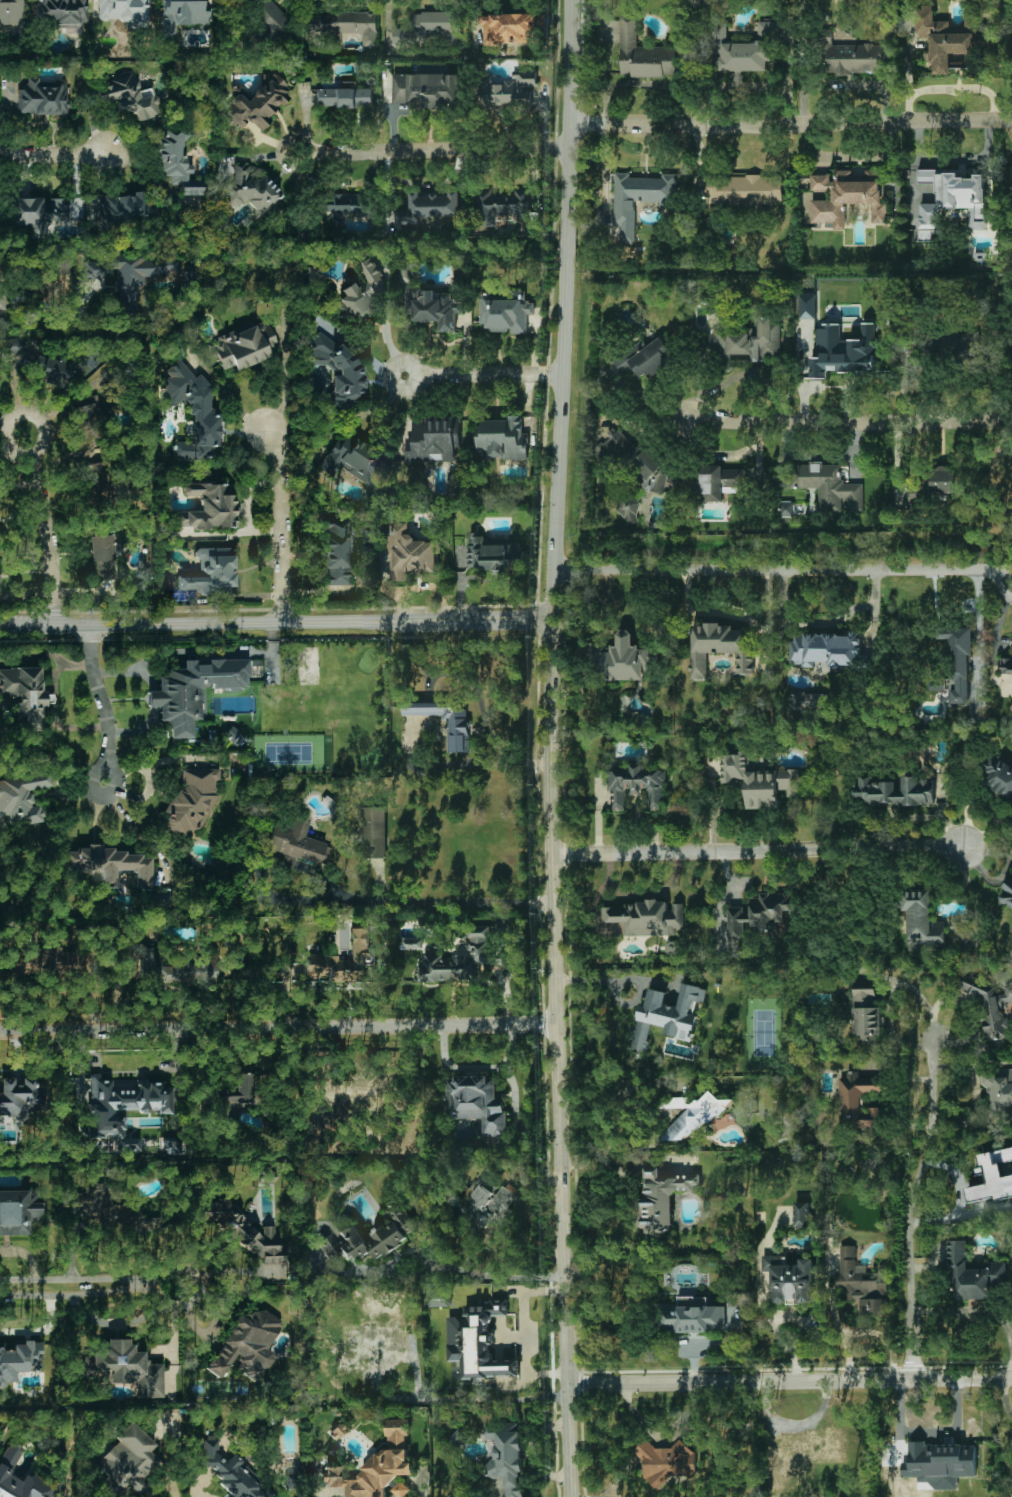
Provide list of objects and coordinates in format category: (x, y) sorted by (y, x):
building: (123, 10)
building: (64, 13)
building: (183, 14)
building: (271, 19)
building: (344, 25)
building: (432, 27)
building: (508, 28)
building: (766, 29)
building: (945, 42)
building: (736, 52)
building: (643, 54)
building: (851, 57)
building: (426, 89)
building: (507, 90)
building: (129, 97)
building: (344, 97)
building: (43, 98)
building: (257, 105)
road: (790, 122)
road: (431, 149)
road: (56, 155)
building: (176, 162)
building: (926, 175)
building: (246, 186)
building: (745, 188)
building: (640, 194)
building: (846, 197)
building: (953, 203)
building: (502, 206)
building: (430, 207)
building: (128, 208)
building: (350, 208)
building: (42, 214)
building: (405, 273)
building: (126, 276)
building: (190, 280)
building: (362, 295)
building: (2, 299)
building: (807, 305)
building: (432, 307)
building: (506, 314)
building: (748, 341)
building: (971, 345)
building: (244, 347)
building: (844, 351)
building: (647, 357)
building: (340, 372)
road: (483, 375)
building: (192, 412)
building: (88, 415)
road: (849, 418)
road: (12, 429)
road: (12, 435)
building: (502, 438)
building: (433, 439)
building: (353, 460)
building: (636, 460)
building: (718, 482)
building: (935, 482)
building: (209, 507)
building: (787, 508)
building: (629, 511)
road: (280, 524)
road: (45, 530)
building: (337, 551)
building: (409, 553)
building: (492, 553)
building: (103, 556)
road: (784, 568)
building: (210, 573)
road: (276, 622)
road: (978, 633)
building: (719, 647)
building: (826, 648)
building: (621, 659)
building: (955, 665)
building: (1006, 665)
building: (193, 690)
building: (25, 695)
road: (480, 699)
building: (806, 701)
road: (101, 702)
building: (458, 733)
road: (550, 748)
building: (997, 774)
building: (758, 780)
building: (637, 787)
building: (895, 791)
building: (22, 798)
building: (192, 801)
road: (607, 821)
building: (373, 832)
building: (295, 844)
road: (759, 848)
building: (113, 865)
building: (1007, 893)
road: (447, 901)
building: (760, 912)
building: (646, 917)
building: (922, 921)
building: (411, 943)
building: (459, 960)
building: (42, 962)
building: (340, 963)
building: (176, 968)
road: (610, 979)
building: (990, 1007)
building: (866, 1013)
building: (668, 1015)
road: (279, 1021)
road: (477, 1068)
building: (999, 1089)
building: (357, 1090)
building: (234, 1097)
building: (21, 1098)
building: (860, 1101)
building: (476, 1102)
building: (123, 1107)
building: (700, 1117)
road: (630, 1164)
building: (994, 1176)
building: (662, 1196)
road: (910, 1198)
building: (491, 1203)
building: (108, 1209)
building: (18, 1211)
building: (801, 1214)
building: (394, 1229)
building: (243, 1231)
road: (476, 1271)
building: (973, 1272)
building: (860, 1277)
building: (789, 1278)
road: (93, 1288)
road: (764, 1304)
building: (873, 1307)
road: (971, 1309)
building: (693, 1316)
road: (804, 1323)
road: (43, 1330)
road: (867, 1330)
building: (478, 1340)
building: (247, 1343)
building: (367, 1347)
building: (18, 1360)
building: (387, 1366)
building: (125, 1368)
road: (791, 1380)
road: (1004, 1397)
road: (487, 1399)
building: (338, 1430)
building: (458, 1437)
building: (506, 1456)
building: (128, 1462)
building: (669, 1463)
building: (939, 1463)
building: (376, 1465)
building: (7, 1466)
road: (162, 1485)
building: (400, 1489)

